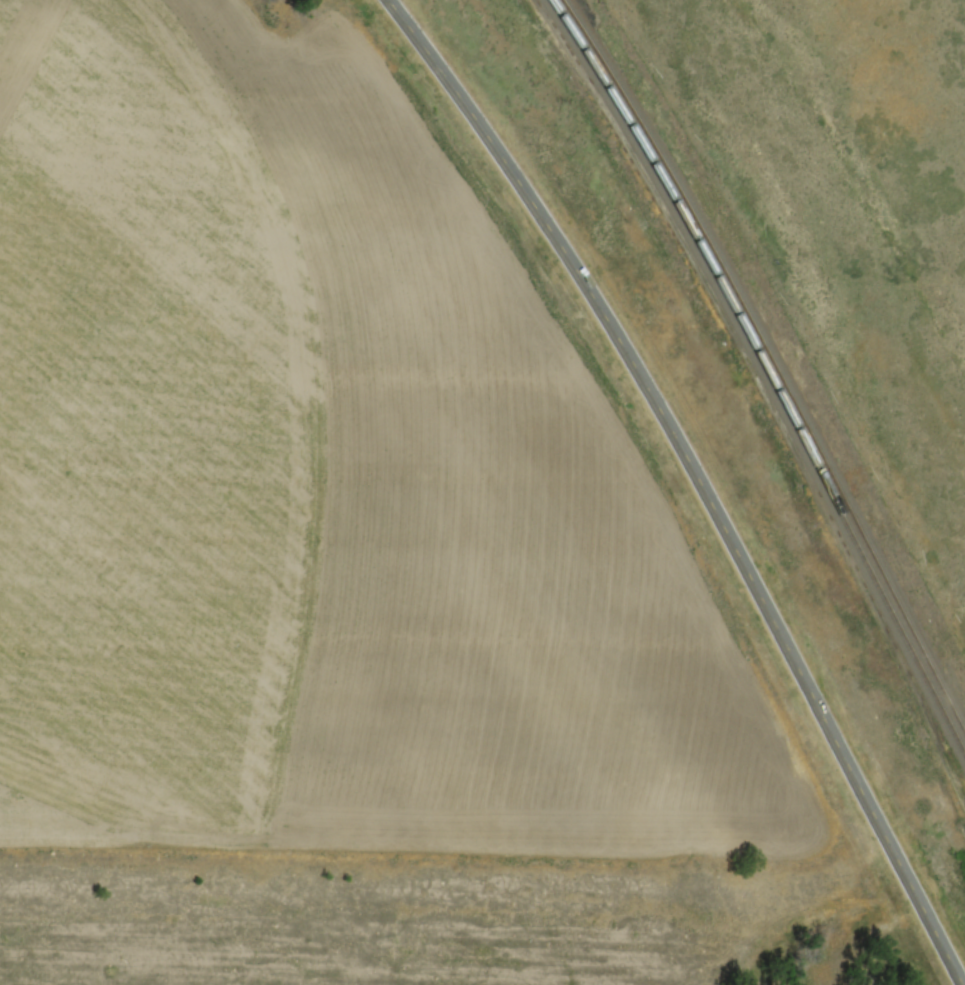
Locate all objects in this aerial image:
railway: (774, 357)
railway: (768, 368)
road: (703, 478)
crop: (318, 488)

